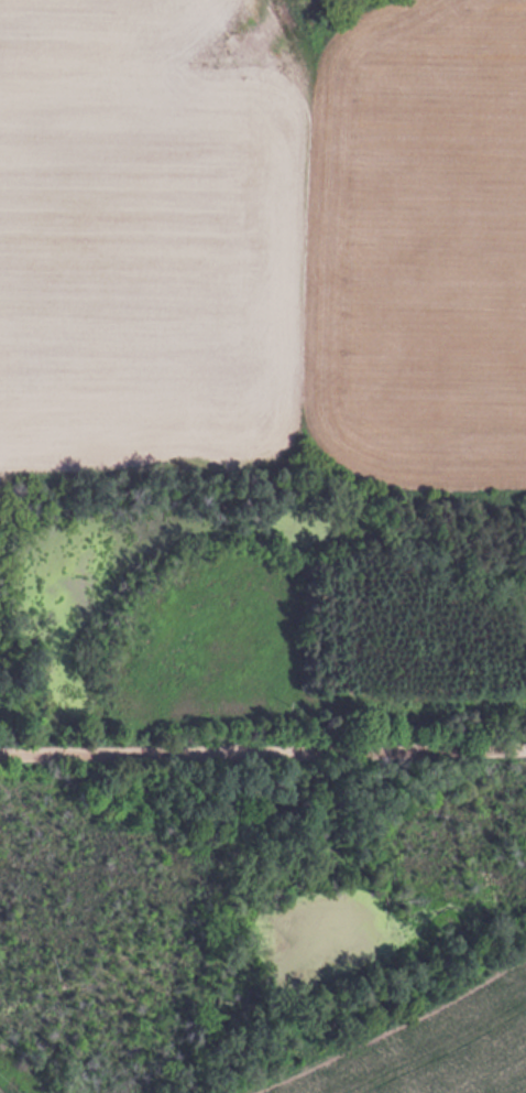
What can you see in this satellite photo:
road: (263, 748)

